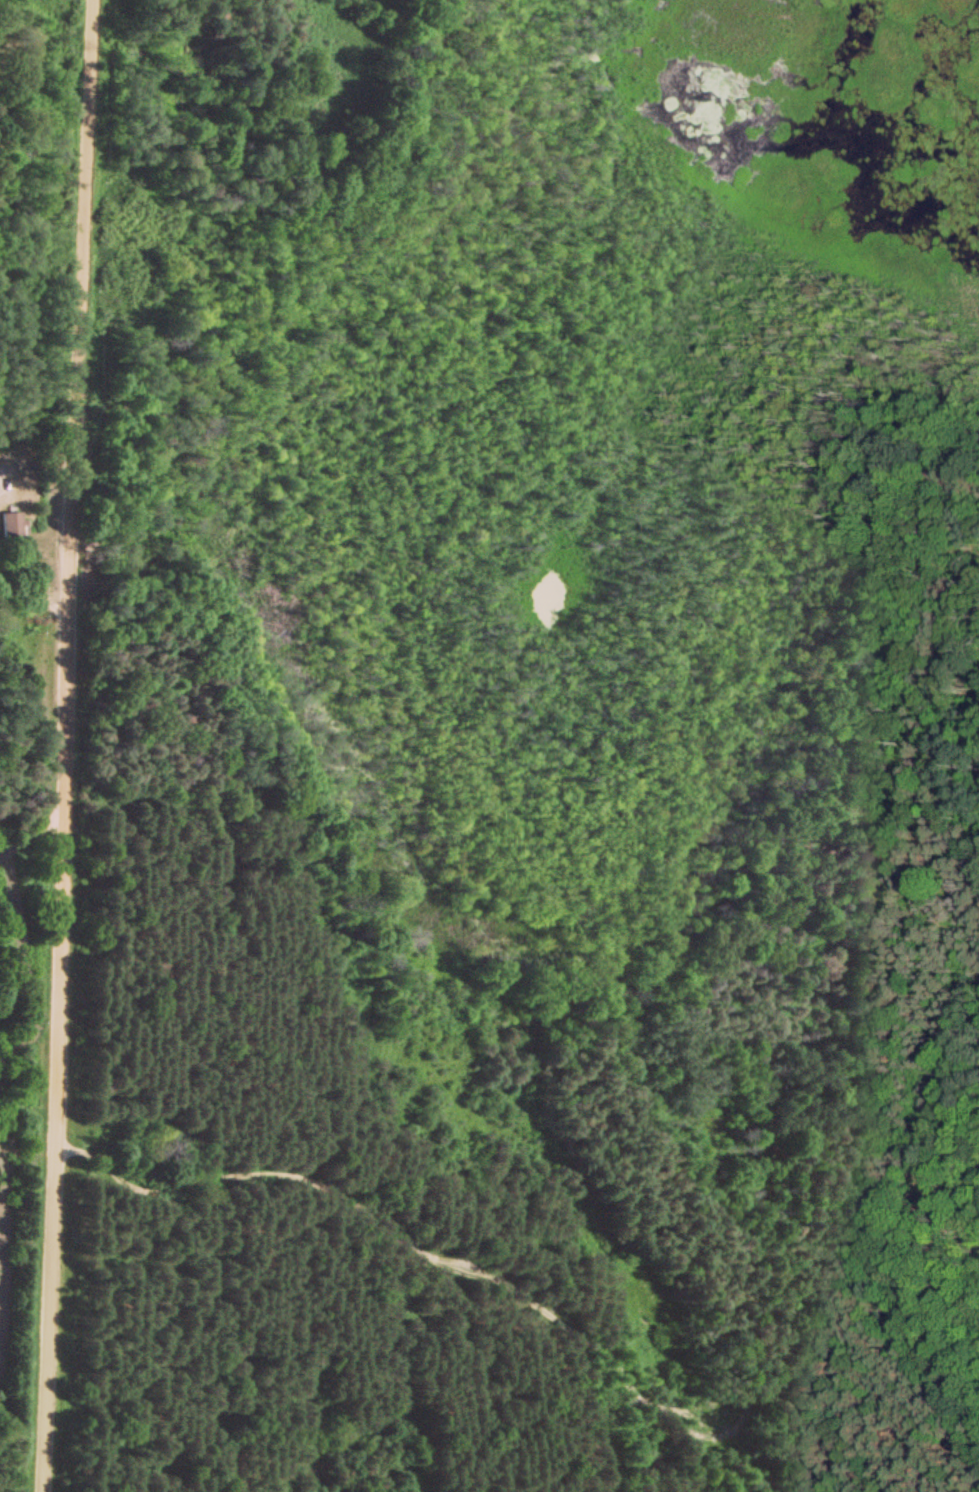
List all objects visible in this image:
building: (9, 529)
road: (57, 745)
road: (772, 1409)

